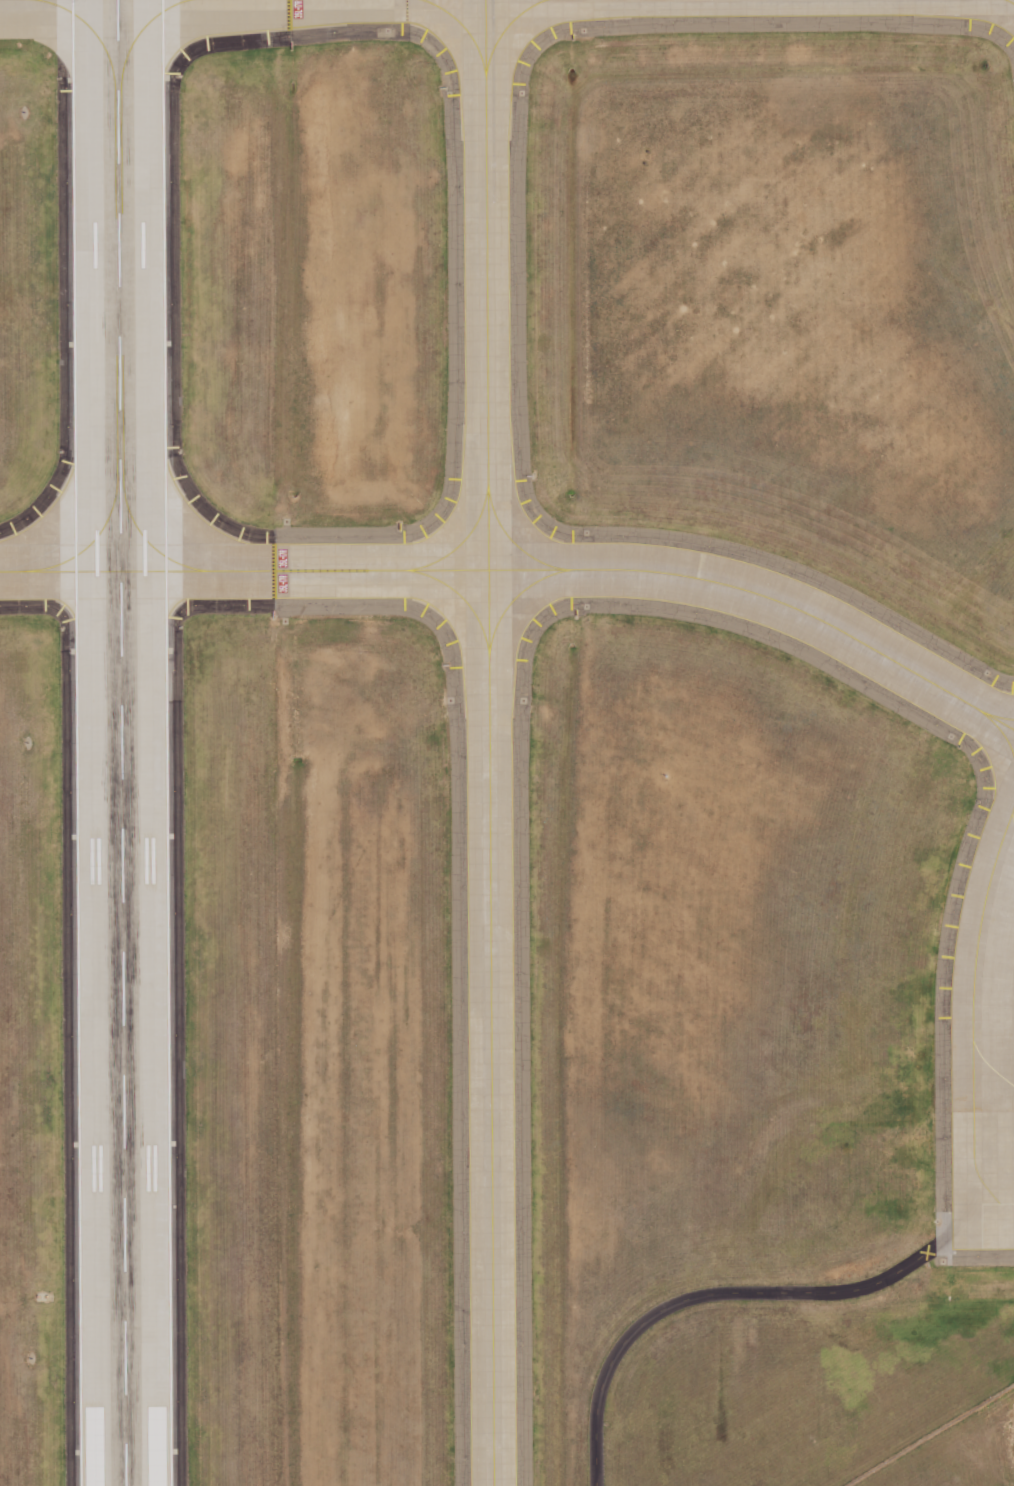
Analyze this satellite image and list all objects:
airport taxiway: (1009, 2)
airport taxiway: (525, 570)
airport taxiway: (1005, 720)
airport taxiway: (1005, 742)
airport runway: (120, 743)
airport taxiway: (487, 743)
airport: (507, 743)
airport taxiway: (1012, 821)
airport taxiway: (974, 1005)
airport apron: (984, 1039)
airport taxiway: (994, 1072)
road: (712, 1294)

